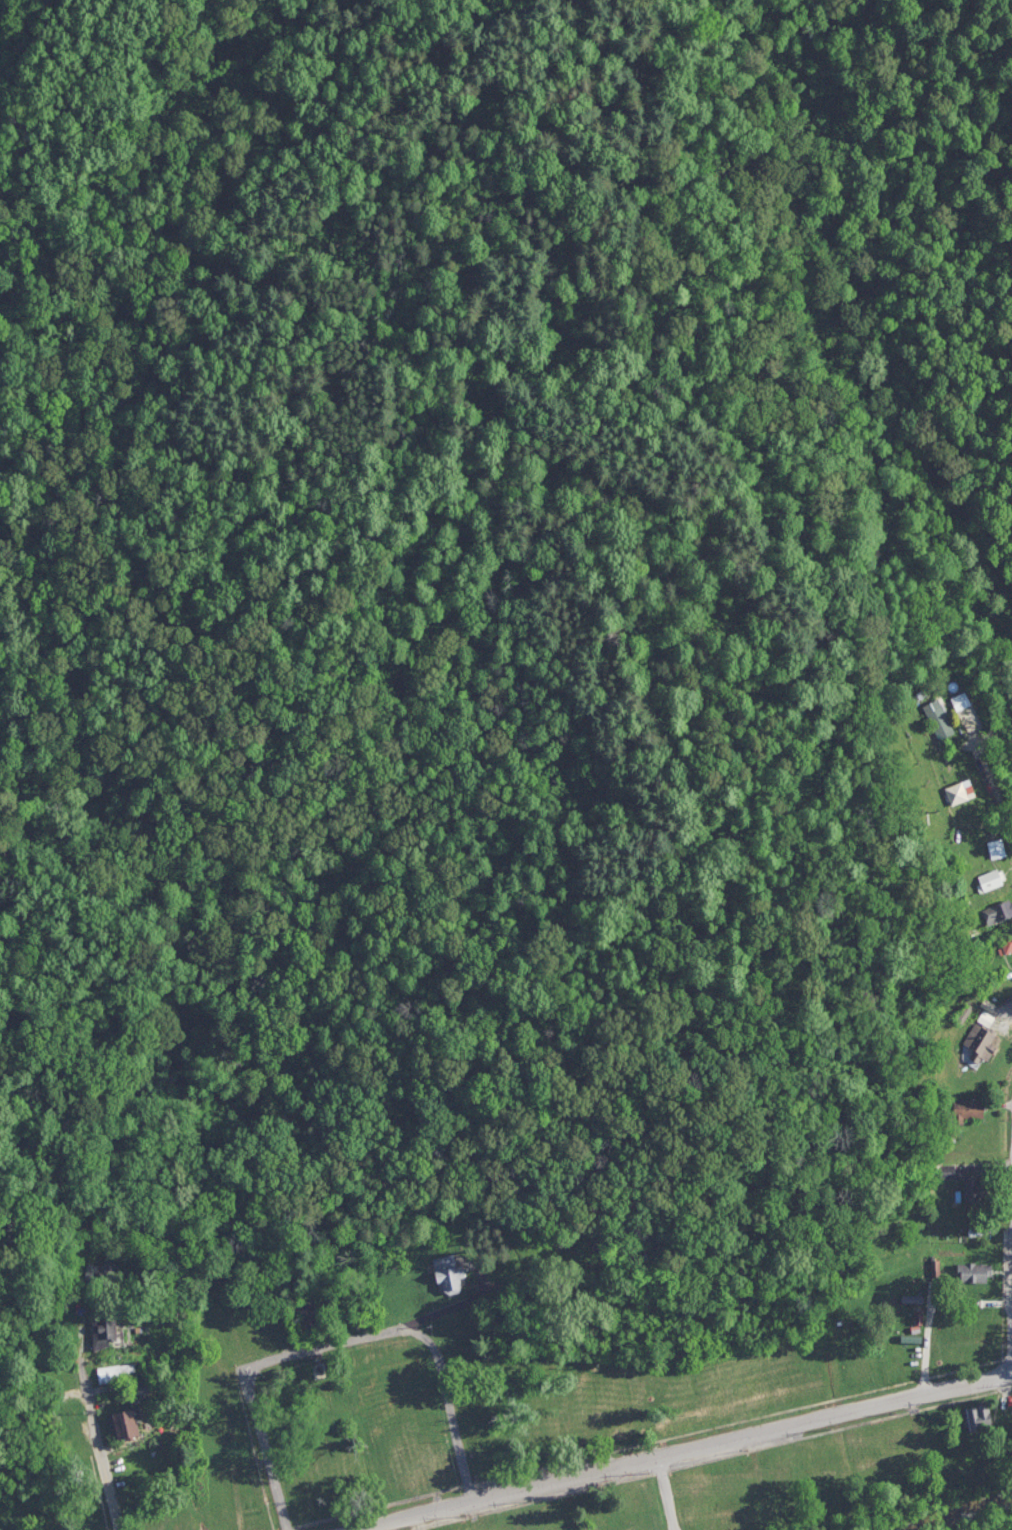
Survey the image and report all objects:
building: (934, 717)
building: (959, 794)
road: (1002, 817)
building: (984, 879)
building: (998, 908)
building: (1003, 941)
building: (962, 1015)
building: (974, 1042)
building: (959, 1109)
building: (948, 1172)
building: (978, 1186)
building: (650, 1258)
building: (968, 1271)
building: (449, 1273)
road: (454, 1309)
building: (310, 1316)
building: (104, 1333)
road: (927, 1338)
road: (340, 1345)
building: (320, 1372)
building: (117, 1373)
building: (975, 1415)
building: (129, 1425)
road: (98, 1447)
road: (685, 1452)
road: (666, 1494)

